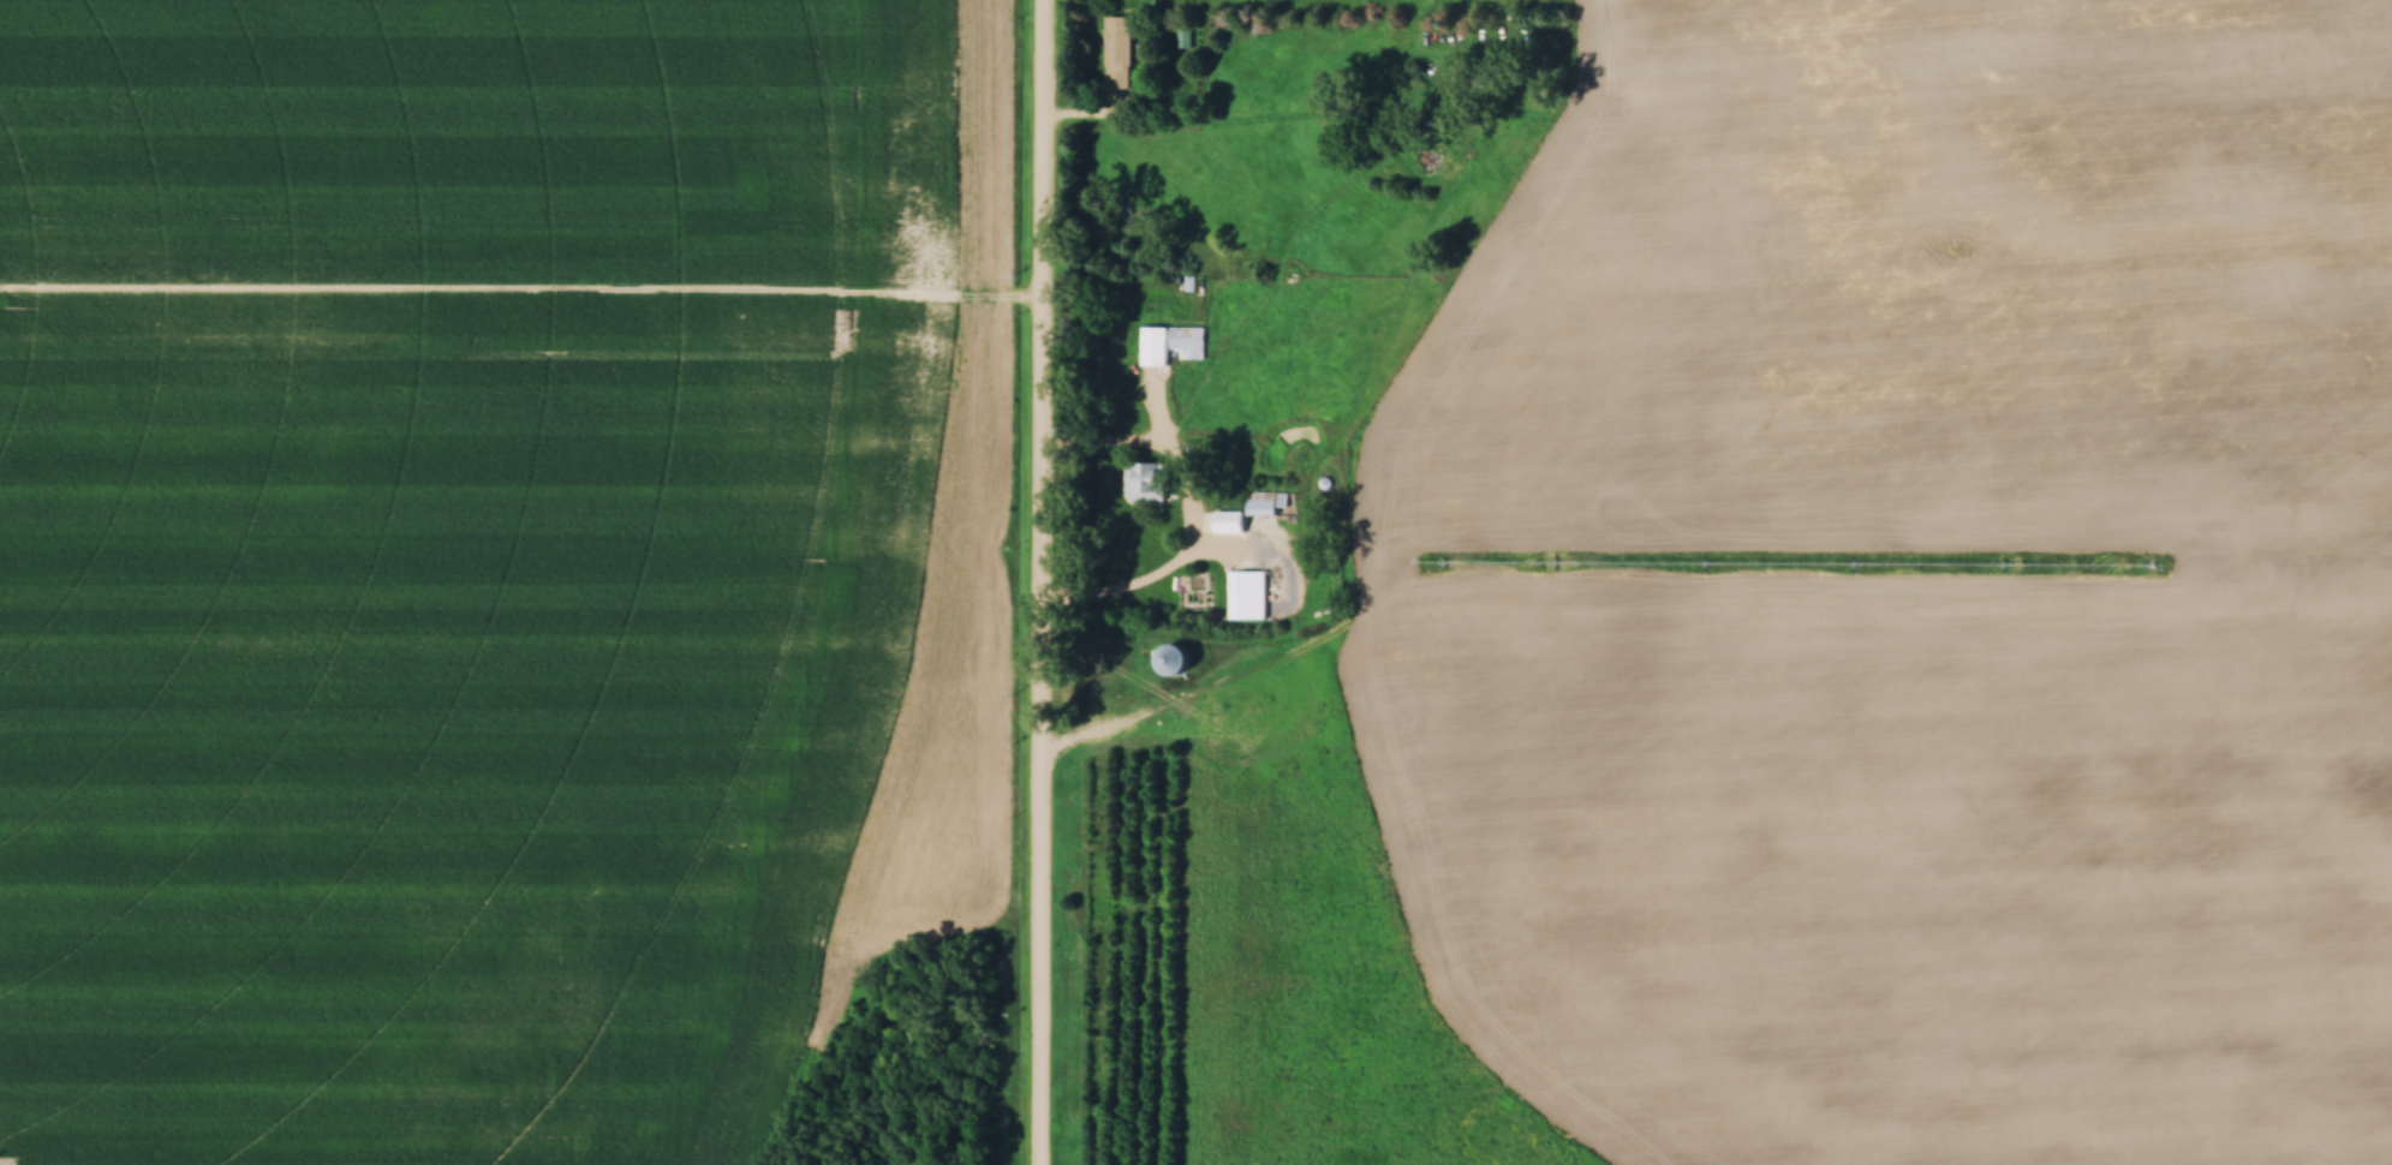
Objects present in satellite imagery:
building: (1117, 54)
building: (1187, 341)
road: (1144, 452)
building: (1145, 484)
building: (1246, 515)
road: (1043, 582)
building: (1246, 597)
building: (1174, 662)

